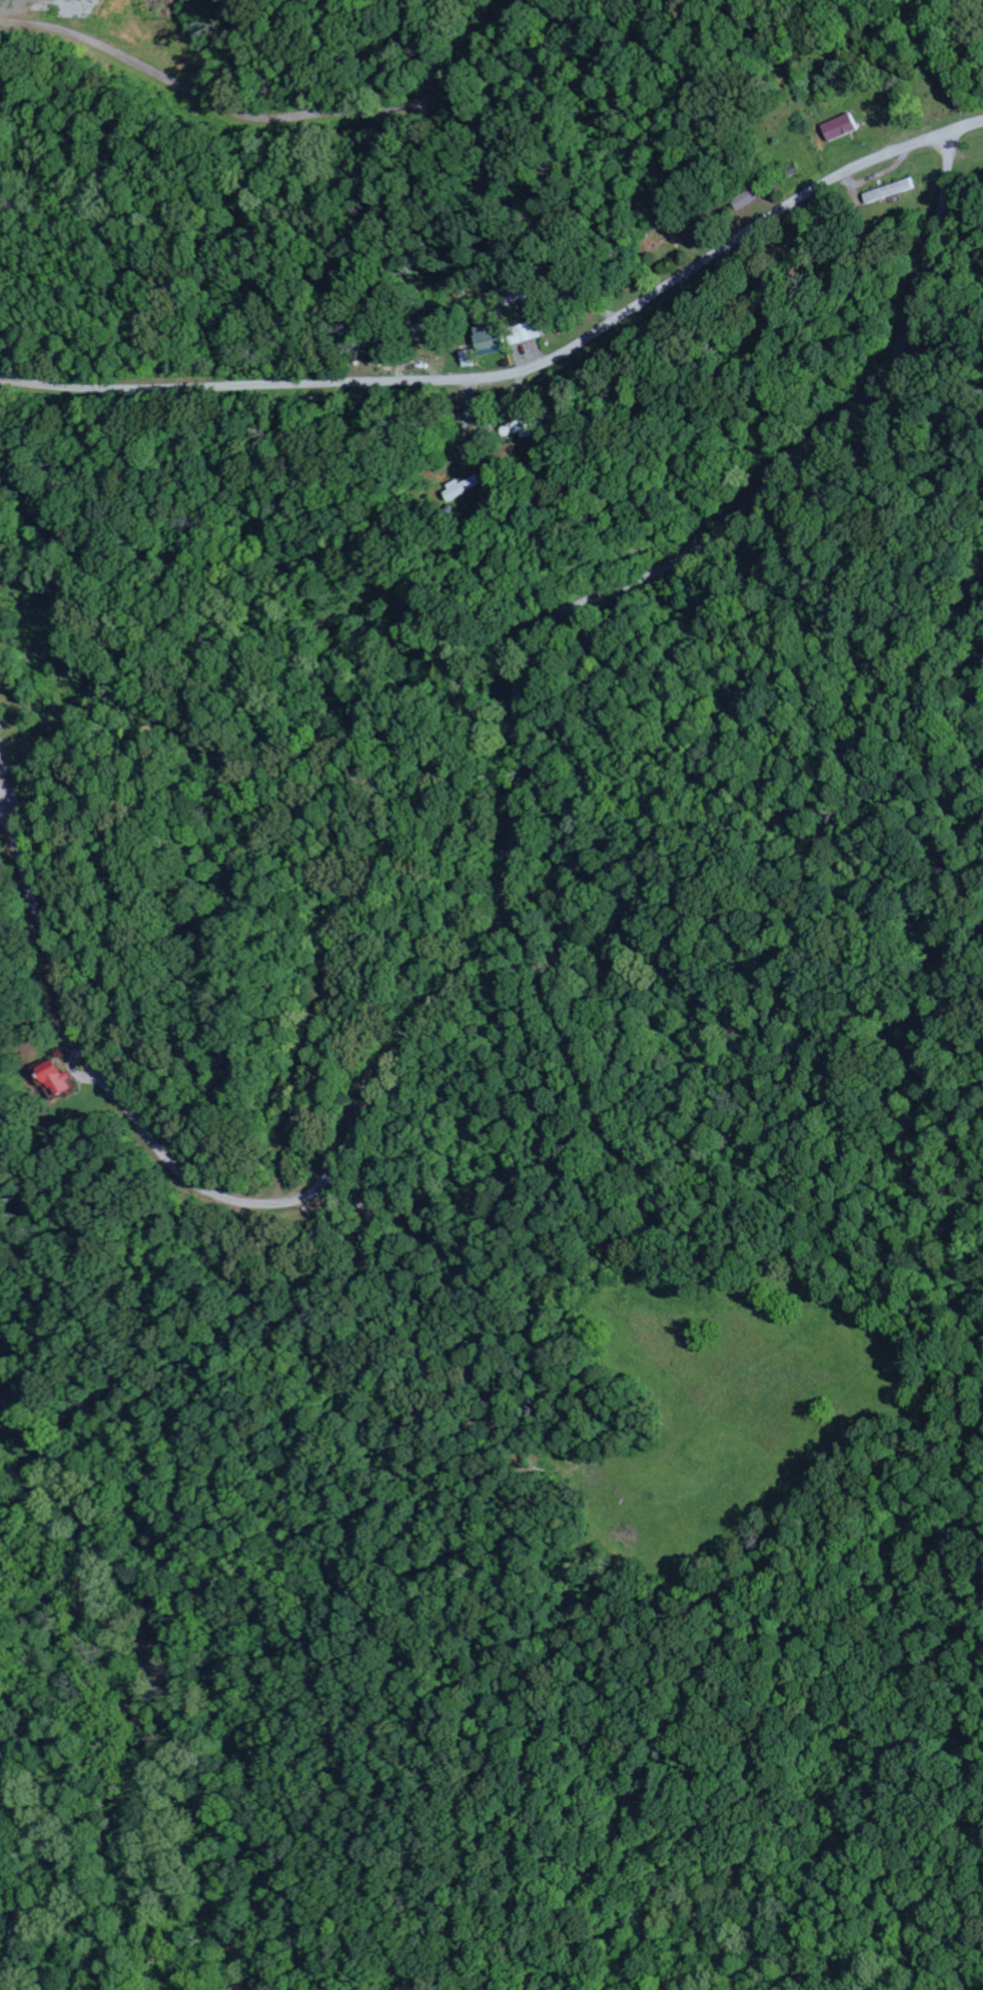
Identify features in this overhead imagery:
road: (276, 115)
building: (842, 128)
building: (893, 191)
building: (749, 199)
road: (699, 328)
building: (526, 332)
building: (487, 341)
road: (523, 371)
road: (468, 412)
road: (689, 412)
building: (517, 429)
road: (664, 439)
road: (292, 622)
road: (579, 702)
building: (2, 723)
road: (510, 765)
road: (312, 786)
road: (33, 898)
building: (57, 1082)

